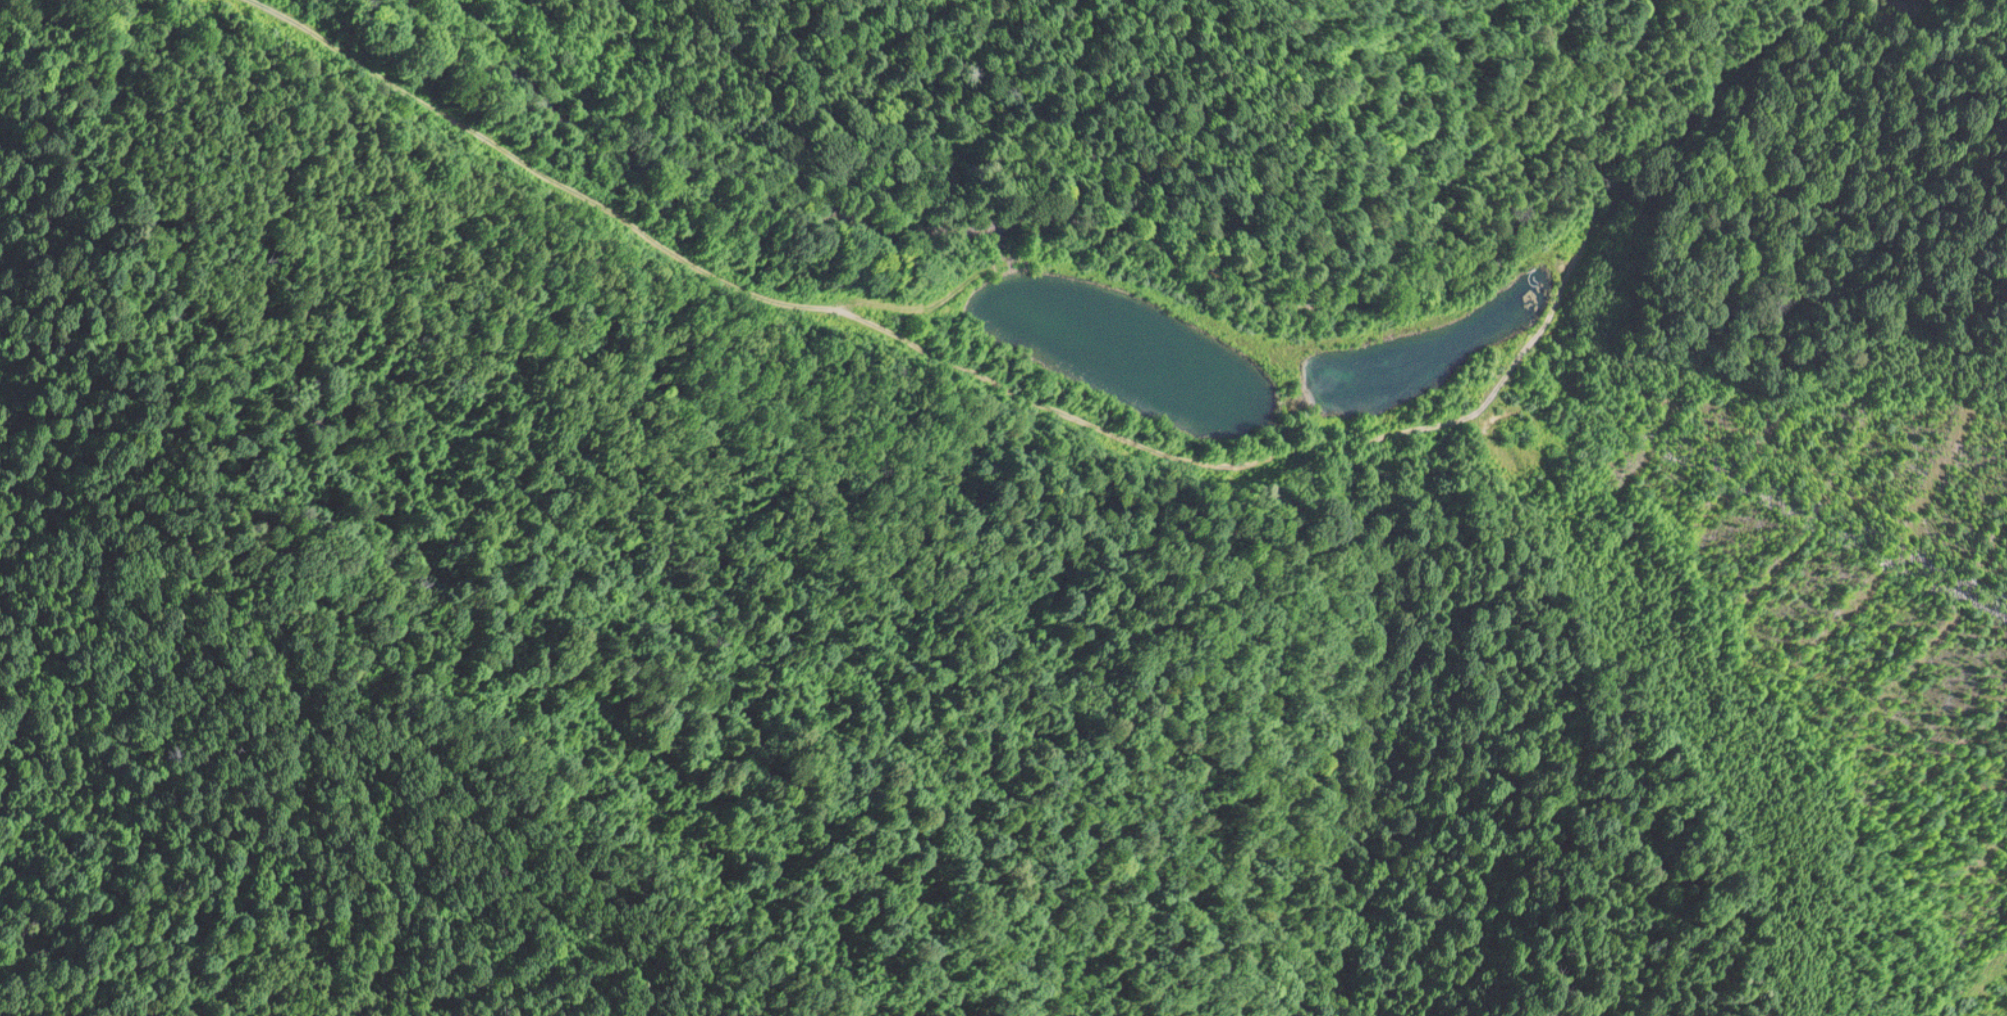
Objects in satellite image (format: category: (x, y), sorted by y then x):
road: (1095, 443)
quarry: (1003, 508)

